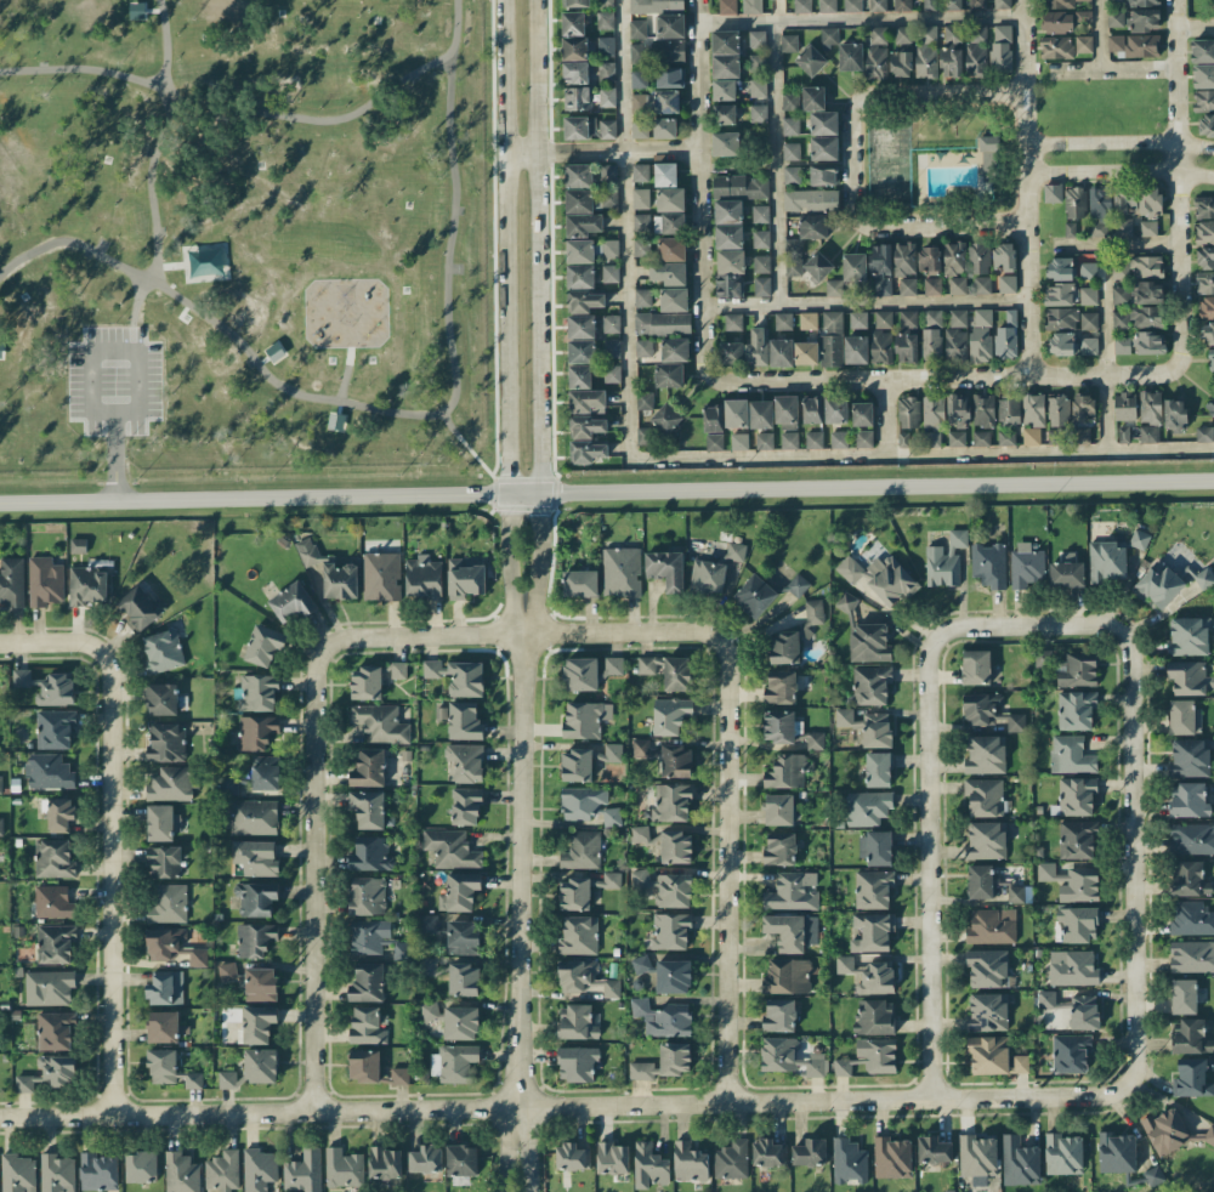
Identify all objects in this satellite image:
building: (1114, 0)
building: (575, 2)
building: (605, 2)
building: (1142, 2)
building: (952, 4)
building: (1000, 4)
building: (1057, 4)
building: (656, 5)
building: (802, 5)
building: (827, 5)
building: (852, 5)
building: (878, 5)
building: (902, 5)
building: (929, 5)
building: (727, 6)
building: (751, 6)
road: (861, 17)
building: (1116, 18)
building: (605, 19)
building: (1144, 19)
building: (1063, 21)
building: (573, 23)
road: (1195, 24)
building: (670, 25)
building: (637, 28)
building: (953, 33)
building: (903, 34)
building: (929, 34)
road: (1099, 34)
building: (828, 35)
building: (756, 39)
building: (789, 41)
building: (1083, 44)
building: (1135, 44)
building: (606, 45)
building: (1056, 46)
building: (574, 47)
building: (1000, 47)
building: (976, 50)
building: (1202, 50)
building: (658, 51)
building: (725, 53)
building: (877, 53)
building: (850, 56)
building: (811, 59)
building: (925, 61)
building: (951, 61)
building: (756, 63)
building: (901, 63)
road: (1113, 68)
building: (606, 70)
building: (575, 72)
building: (1203, 75)
building: (639, 78)
building: (670, 78)
building: (758, 87)
building: (724, 89)
road: (940, 91)
building: (607, 96)
building: (577, 97)
building: (813, 97)
building: (1204, 100)
building: (789, 101)
building: (656, 102)
building: (724, 113)
building: (758, 113)
building: (823, 123)
building: (790, 125)
building: (1206, 125)
building: (580, 126)
building: (653, 127)
building: (607, 129)
building: (726, 143)
road: (1119, 143)
building: (824, 147)
road: (636, 151)
building: (790, 151)
road: (540, 153)
building: (989, 158)
road: (776, 161)
road: (853, 163)
road: (1119, 170)
building: (641, 171)
building: (608, 172)
building: (665, 174)
building: (790, 174)
building: (823, 174)
building: (578, 175)
road: (1179, 182)
building: (739, 186)
road: (1026, 187)
road: (700, 189)
building: (1053, 193)
building: (609, 197)
building: (641, 198)
building: (670, 198)
building: (1125, 198)
building: (811, 199)
building: (579, 200)
building: (1151, 203)
building: (1204, 206)
building: (1099, 210)
building: (727, 211)
building: (760, 212)
building: (641, 222)
building: (669, 222)
building: (583, 223)
building: (812, 226)
building: (1123, 227)
building: (1147, 227)
road: (943, 228)
building: (1070, 228)
building: (728, 235)
building: (760, 238)
road: (1114, 244)
building: (609, 248)
building: (641, 248)
building: (671, 249)
building: (579, 250)
building: (1004, 255)
building: (793, 256)
building: (1204, 256)
building: (929, 257)
building: (954, 257)
building: (978, 257)
building: (904, 259)
building: (761, 263)
building: (817, 266)
building: (855, 266)
building: (881, 267)
building: (1060, 267)
building: (1138, 267)
building: (1088, 269)
building: (609, 272)
building: (668, 272)
building: (730, 272)
building: (579, 276)
building: (1204, 282)
building: (1008, 283)
building: (982, 284)
building: (907, 285)
building: (932, 285)
building: (957, 285)
building: (761, 286)
building: (833, 288)
building: (1146, 291)
building: (1059, 294)
building: (1088, 295)
building: (1119, 295)
building: (642, 297)
building: (674, 299)
building: (585, 300)
road: (866, 302)
building: (958, 317)
building: (983, 317)
road: (507, 318)
road: (539, 318)
building: (883, 318)
building: (908, 318)
building: (1061, 318)
building: (1136, 318)
building: (807, 319)
building: (858, 319)
building: (733, 320)
building: (783, 320)
building: (1088, 320)
building: (611, 323)
building: (662, 323)
building: (580, 325)
building: (1209, 333)
building: (931, 334)
building: (1006, 335)
building: (830, 339)
building: (1140, 342)
building: (980, 344)
building: (1062, 344)
building: (955, 345)
building: (1089, 345)
building: (756, 346)
building: (880, 346)
road: (1105, 346)
building: (611, 347)
building: (643, 347)
building: (907, 347)
building: (674, 348)
building: (856, 348)
building: (582, 351)
building: (781, 352)
building: (806, 352)
building: (732, 353)
building: (1212, 359)
building: (612, 373)
building: (669, 374)
road: (93, 376)
building: (579, 376)
road: (946, 378)
building: (645, 399)
building: (586, 401)
building: (1124, 405)
building: (1150, 405)
building: (1083, 407)
building: (835, 408)
building: (812, 409)
building: (957, 409)
building: (1033, 409)
building: (1212, 409)
building: (983, 410)
building: (1057, 410)
building: (736, 411)
building: (908, 411)
building: (761, 413)
building: (862, 413)
building: (1175, 413)
road: (889, 416)
building: (666, 418)
building: (713, 419)
building: (1008, 420)
building: (926, 425)
building: (585, 426)
building: (1123, 433)
building: (1148, 433)
building: (643, 435)
building: (1080, 435)
building: (1031, 436)
building: (957, 437)
building: (981, 437)
building: (839, 438)
building: (863, 438)
building: (764, 439)
building: (789, 439)
building: (813, 439)
building: (739, 441)
building: (714, 442)
building: (586, 450)
road: (692, 459)
road: (606, 493)
building: (1139, 539)
building: (78, 545)
building: (307, 551)
building: (736, 551)
building: (946, 558)
building: (1108, 560)
building: (988, 564)
building: (665, 568)
building: (1027, 568)
building: (620, 571)
building: (1066, 571)
building: (381, 575)
building: (708, 575)
building: (422, 577)
building: (465, 577)
building: (880, 577)
building: (1204, 578)
building: (12, 580)
building: (340, 580)
building: (45, 581)
building: (580, 583)
building: (796, 584)
building: (1158, 584)
building: (87, 585)
building: (754, 595)
building: (291, 602)
building: (140, 608)
building: (864, 634)
road: (497, 635)
building: (795, 635)
building: (1189, 636)
road: (999, 642)
road: (4, 643)
building: (265, 645)
building: (163, 651)
building: (647, 664)
building: (976, 666)
building: (1077, 669)
building: (589, 671)
building: (677, 672)
building: (458, 675)
building: (1189, 677)
building: (373, 679)
building: (870, 683)
building: (781, 687)
building: (164, 699)
building: (981, 708)
building: (1076, 710)
building: (670, 715)
building: (585, 717)
building: (1184, 717)
building: (465, 721)
building: (1016, 721)
building: (380, 722)
building: (778, 726)
building: (868, 726)
building: (55, 727)
building: (256, 731)
building: (815, 739)
building: (166, 742)
building: (640, 745)
building: (609, 753)
building: (986, 754)
building: (1071, 754)
building: (1190, 757)
building: (676, 760)
building: (466, 761)
building: (577, 764)
building: (369, 767)
building: (878, 768)
building: (47, 771)
building: (265, 771)
building: (787, 771)
building: (172, 783)
building: (1, 784)
building: (228, 785)
building: (1077, 795)
building: (985, 796)
building: (1189, 800)
building: (671, 801)
building: (589, 805)
building: (465, 806)
building: (368, 807)
building: (868, 807)
building: (778, 808)
building: (58, 813)
building: (254, 817)
building: (161, 822)
building: (1, 825)
road: (112, 834)
building: (1191, 838)
building: (1077, 839)
building: (986, 840)
building: (666, 844)
road: (725, 845)
building: (875, 847)
building: (452, 848)
building: (781, 848)
building: (582, 850)
building: (370, 853)
building: (256, 857)
building: (53, 858)
building: (164, 861)
road: (312, 878)
building: (1190, 878)
road: (521, 881)
building: (1072, 881)
building: (665, 887)
building: (873, 887)
building: (460, 891)
building: (793, 891)
building: (574, 893)
building: (368, 895)
building: (256, 897)
building: (53, 901)
building: (168, 903)
building: (1191, 918)
building: (429, 923)
building: (1078, 924)
building: (992, 926)
building: (670, 931)
building: (792, 931)
building: (873, 931)
building: (579, 935)
building: (464, 936)
building: (373, 937)
building: (255, 938)
building: (55, 942)
building: (174, 946)
building: (1191, 957)
building: (641, 964)
building: (844, 964)
building: (427, 965)
building: (1072, 966)
building: (987, 967)
building: (228, 971)
road: (930, 972)
building: (673, 976)
building: (586, 977)
building: (787, 977)
building: (464, 978)
building: (877, 978)
building: (368, 982)
building: (260, 983)
building: (49, 987)
building: (166, 987)
building: (1184, 995)
building: (1046, 998)
building: (430, 1010)
building: (987, 1011)
building: (1084, 1011)
building: (779, 1015)
building: (663, 1017)
building: (874, 1017)
building: (460, 1022)
building: (578, 1022)
building: (259, 1023)
building: (368, 1024)
building: (165, 1026)
building: (55, 1029)
building: (1190, 1035)
building: (1070, 1052)
building: (878, 1054)
building: (994, 1055)
building: (790, 1056)
building: (675, 1057)
building: (454, 1062)
building: (577, 1062)
building: (261, 1065)
building: (364, 1065)
building: (161, 1066)
building: (841, 1066)
building: (642, 1069)
building: (50, 1073)
building: (1193, 1077)
building: (191, 1079)
building: (227, 1079)
road: (721, 1101)
building: (1170, 1131)
building: (935, 1150)
building: (768, 1152)
building: (810, 1152)
building: (1063, 1153)
building: (572, 1156)
building: (612, 1157)
building: (892, 1157)
building: (426, 1158)
building: (977, 1158)
building: (1123, 1158)
building: (461, 1159)
road: (511, 1159)
road: (527, 1159)
building: (731, 1159)
building: (849, 1160)
building: (690, 1162)
building: (1020, 1162)
building: (385, 1163)
building: (649, 1165)
building: (141, 1167)
building: (344, 1168)
building: (259, 1169)
building: (222, 1170)
building: (98, 1171)
building: (303, 1171)
building: (17, 1173)
building: (57, 1173)
building: (181, 1173)

